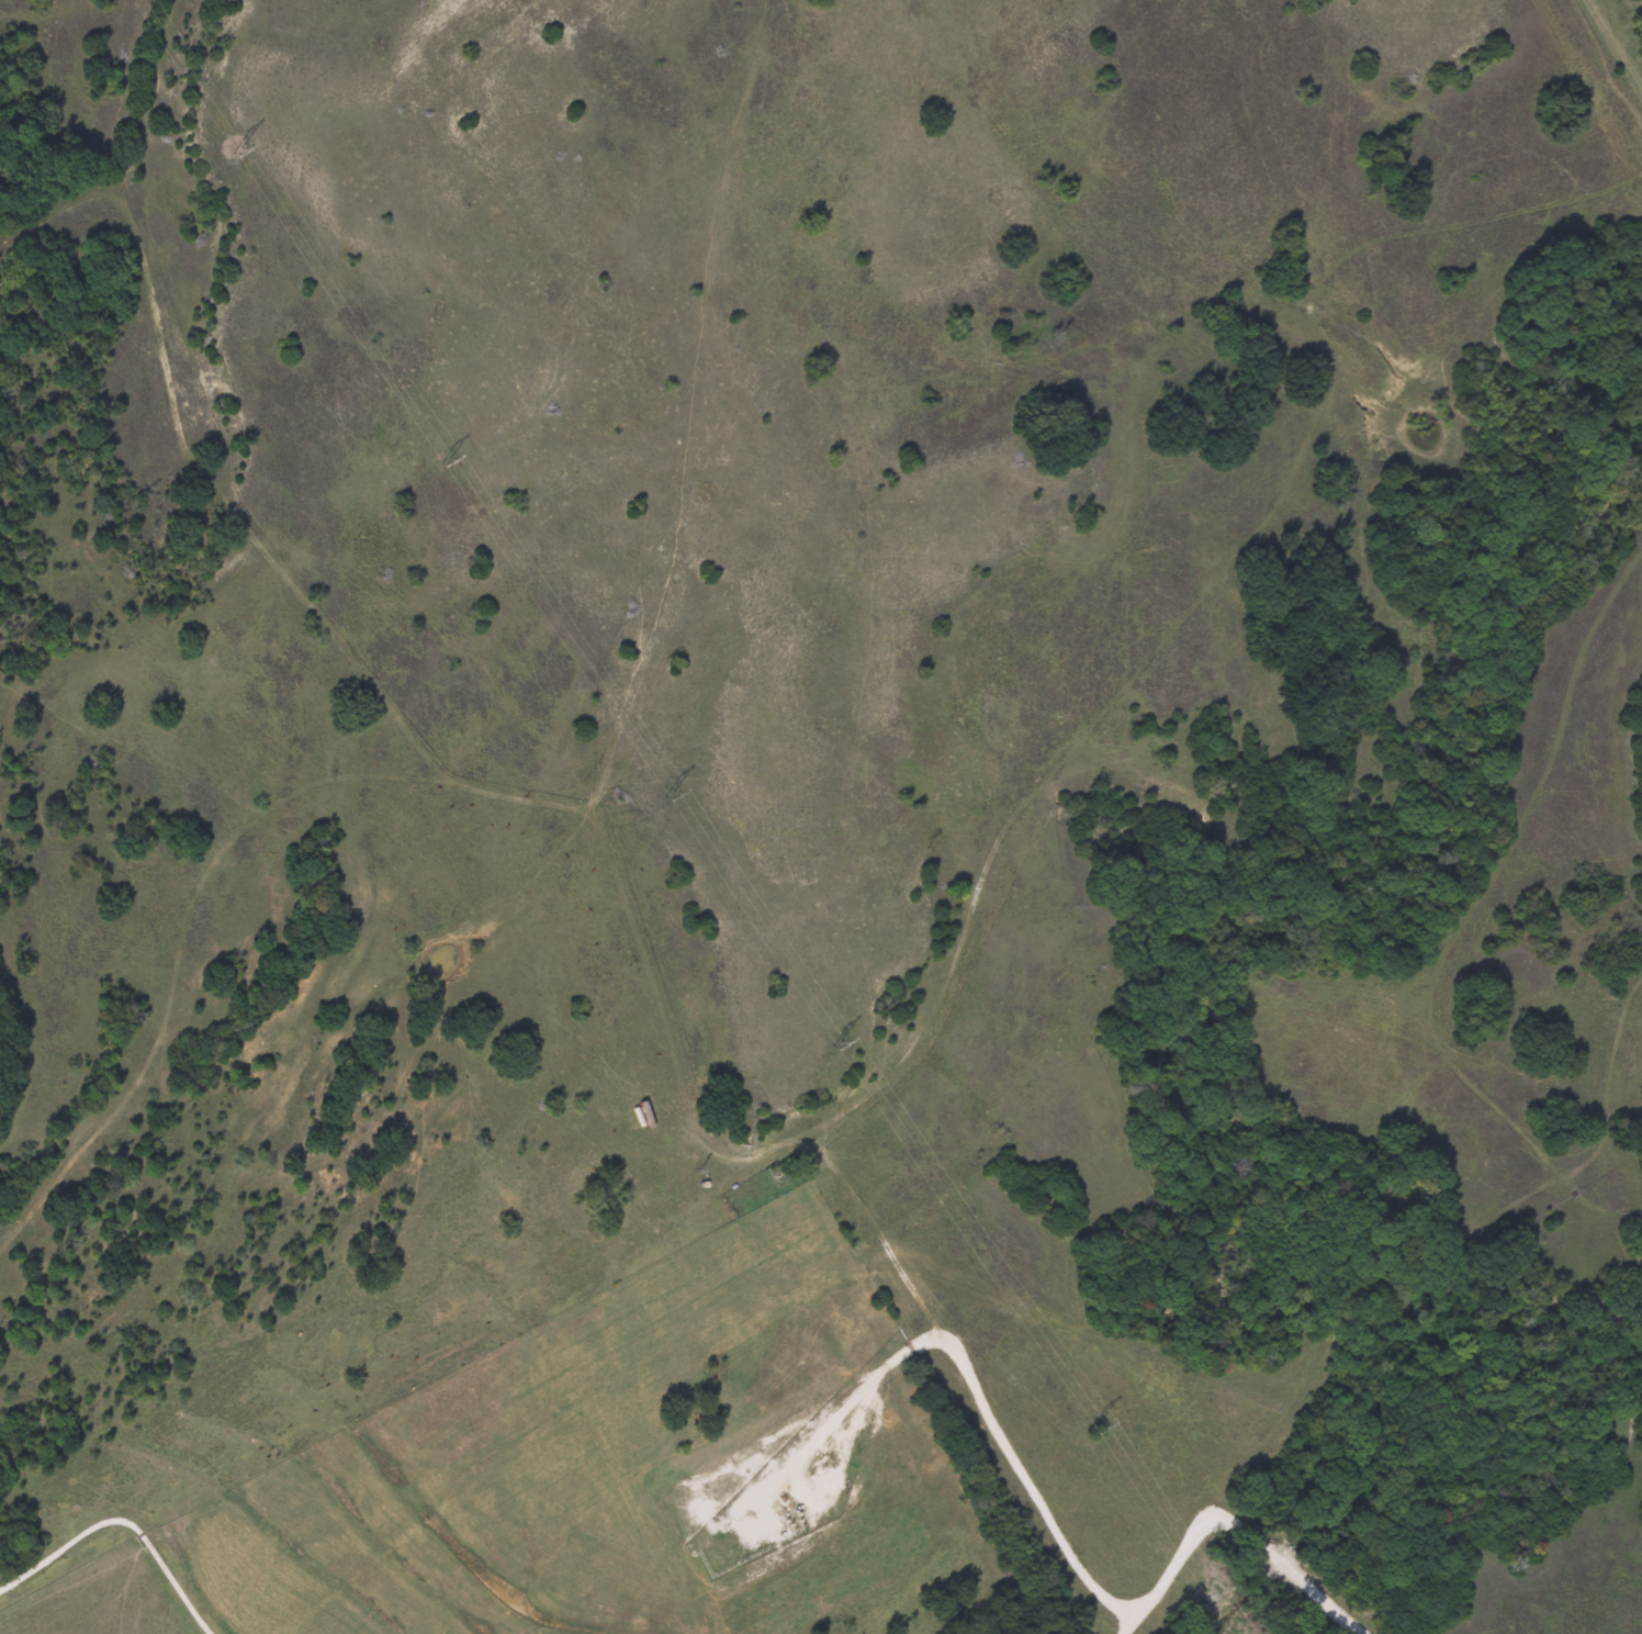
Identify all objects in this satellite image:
road: (124, 1517)
road: (1236, 1521)

